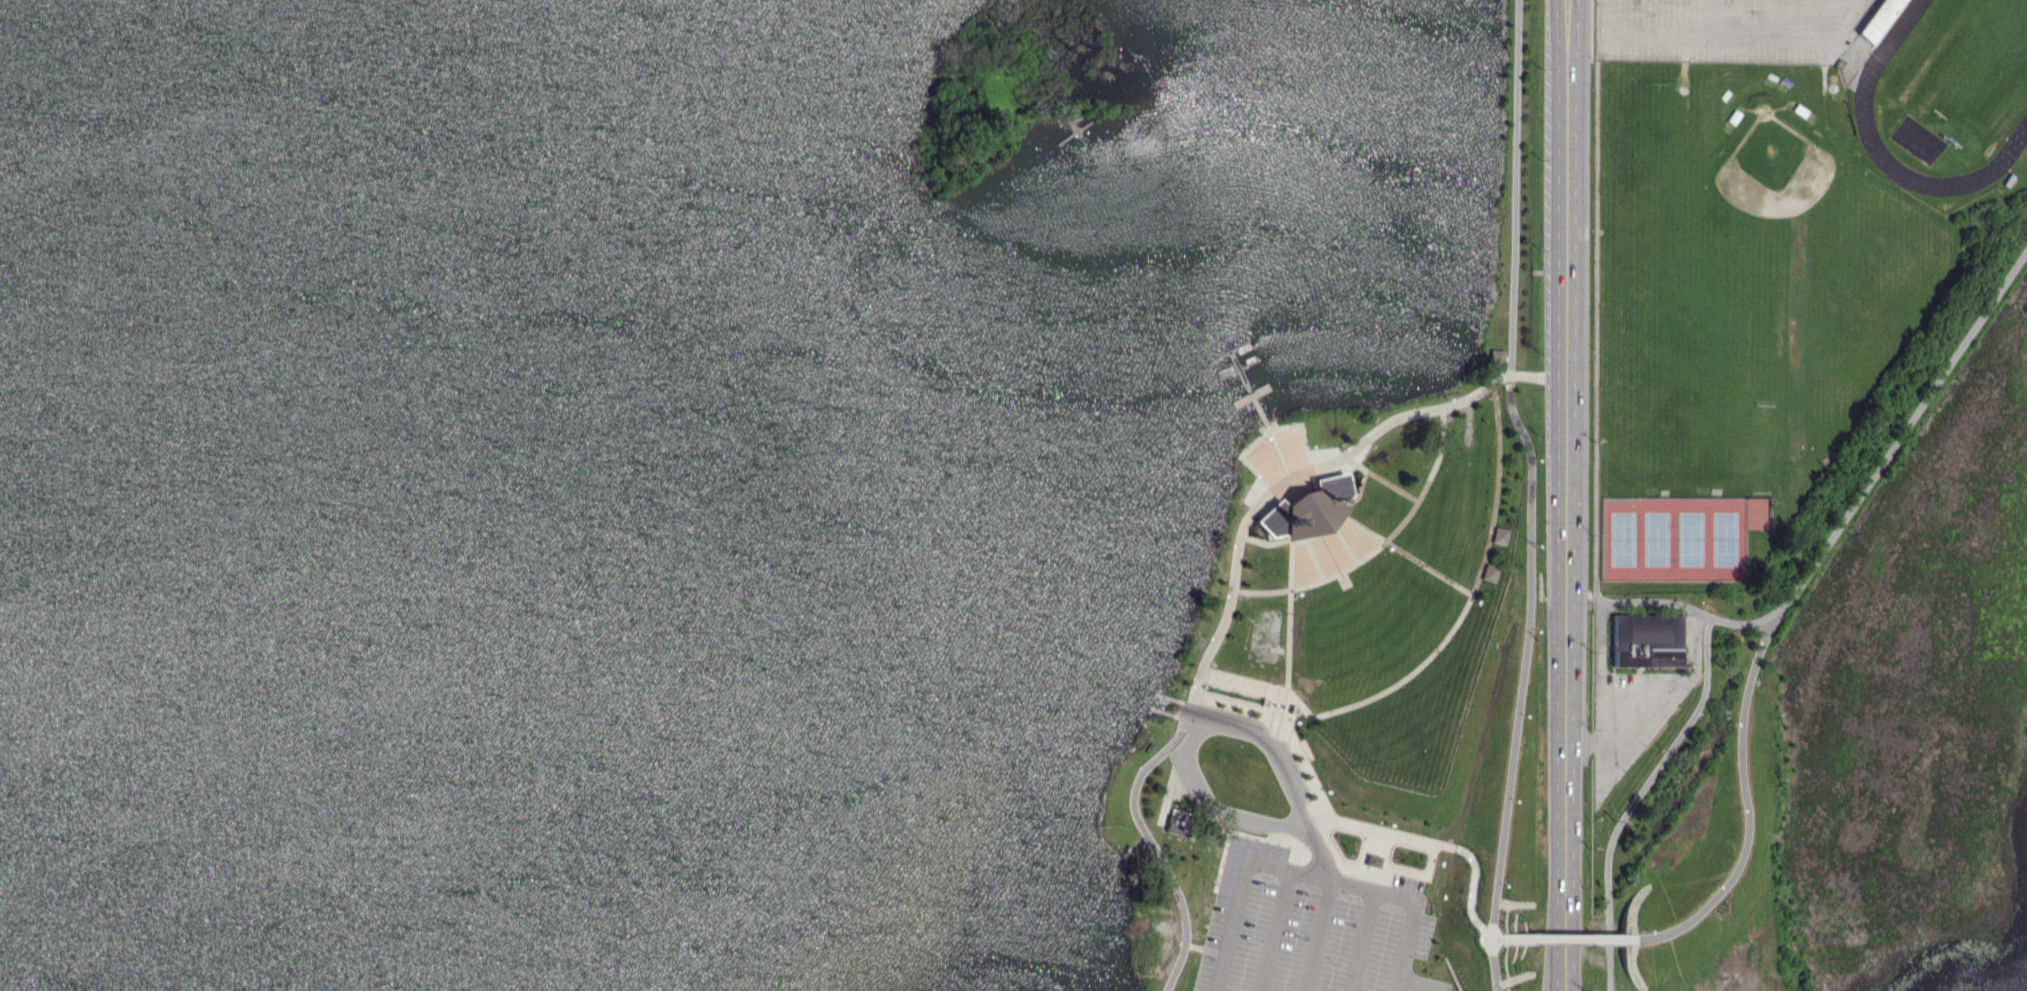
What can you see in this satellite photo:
parking lot: (1727, 29)
park: (1971, 64)
track: (1864, 97)
park: (1774, 170)
road: (1512, 188)
park: (1790, 278)
building: (1496, 357)
road: (1537, 376)
road: (1905, 430)
road: (1290, 477)
road: (1495, 487)
road: (1566, 495)
building: (1306, 505)
building: (1498, 535)
park: (1675, 538)
building: (1488, 573)
road: (1681, 602)
road: (1772, 616)
building: (1646, 641)
road: (1523, 655)
park: (1366, 675)
road: (1396, 684)
road: (1237, 703)
road: (1637, 797)
road: (1744, 807)
road: (1334, 817)
building: (1176, 825)
road: (1145, 837)
road: (1468, 890)
road: (1480, 929)
road: (1492, 937)
road: (1566, 938)
road: (1487, 963)

